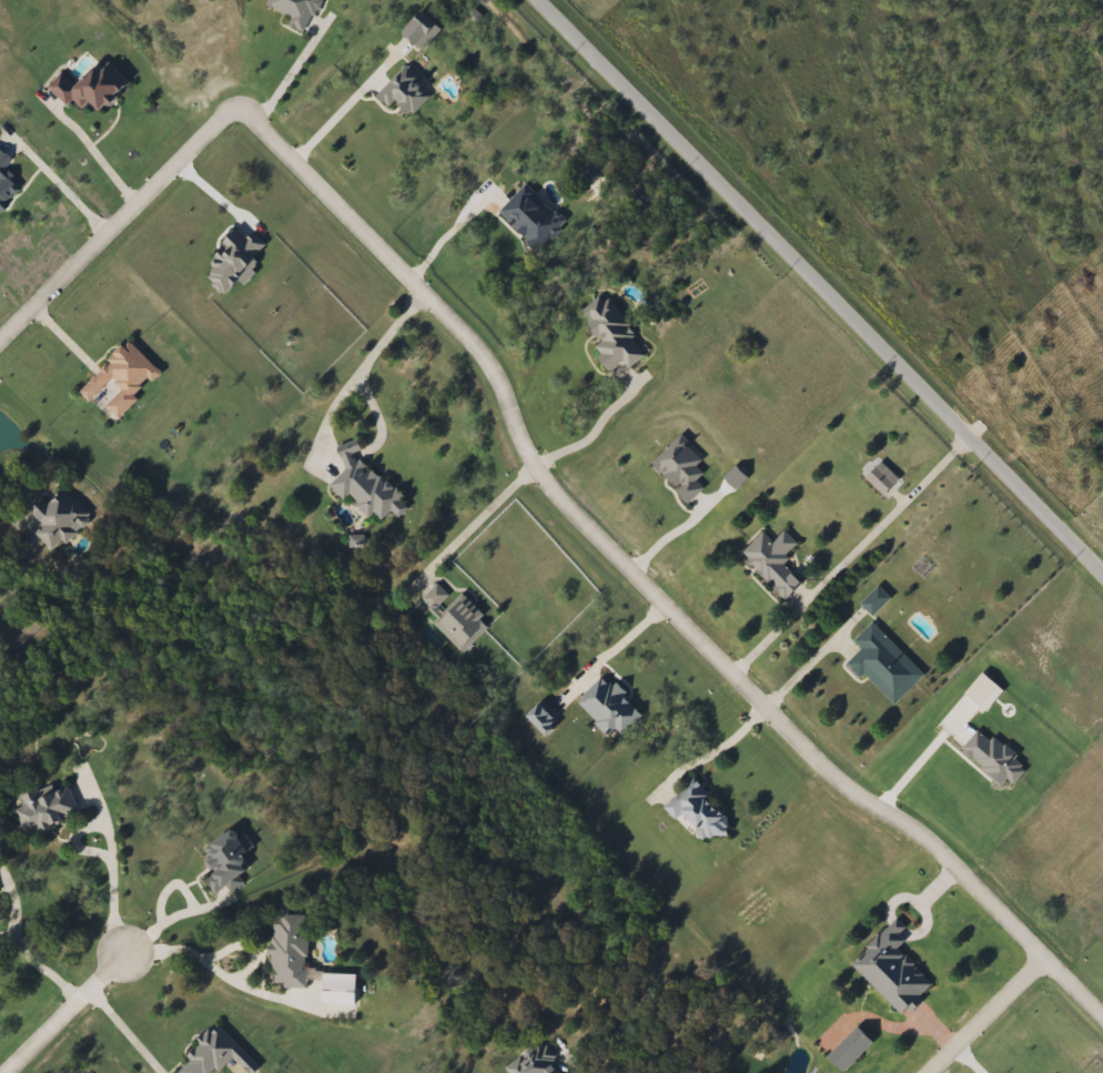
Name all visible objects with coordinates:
road: (291, 78)
building: (91, 85)
building: (406, 92)
road: (341, 118)
road: (99, 159)
road: (69, 198)
building: (532, 216)
road: (117, 227)
road: (452, 232)
road: (822, 284)
road: (368, 357)
building: (118, 381)
road: (590, 433)
building: (879, 477)
building: (366, 487)
road: (3, 516)
building: (58, 518)
road: (478, 519)
road: (670, 535)
road: (851, 557)
building: (770, 561)
road: (642, 583)
building: (434, 598)
building: (873, 601)
building: (459, 624)
road: (608, 654)
building: (881, 665)
road: (808, 667)
road: (728, 745)
road: (920, 759)
building: (45, 807)
building: (698, 812)
road: (110, 857)
building: (226, 860)
road: (190, 910)
building: (287, 950)
road: (36, 968)
building: (890, 969)
road: (221, 979)
building: (338, 989)
road: (68, 1015)
road: (991, 1015)
road: (129, 1032)
building: (847, 1050)
building: (210, 1053)
building: (534, 1061)

